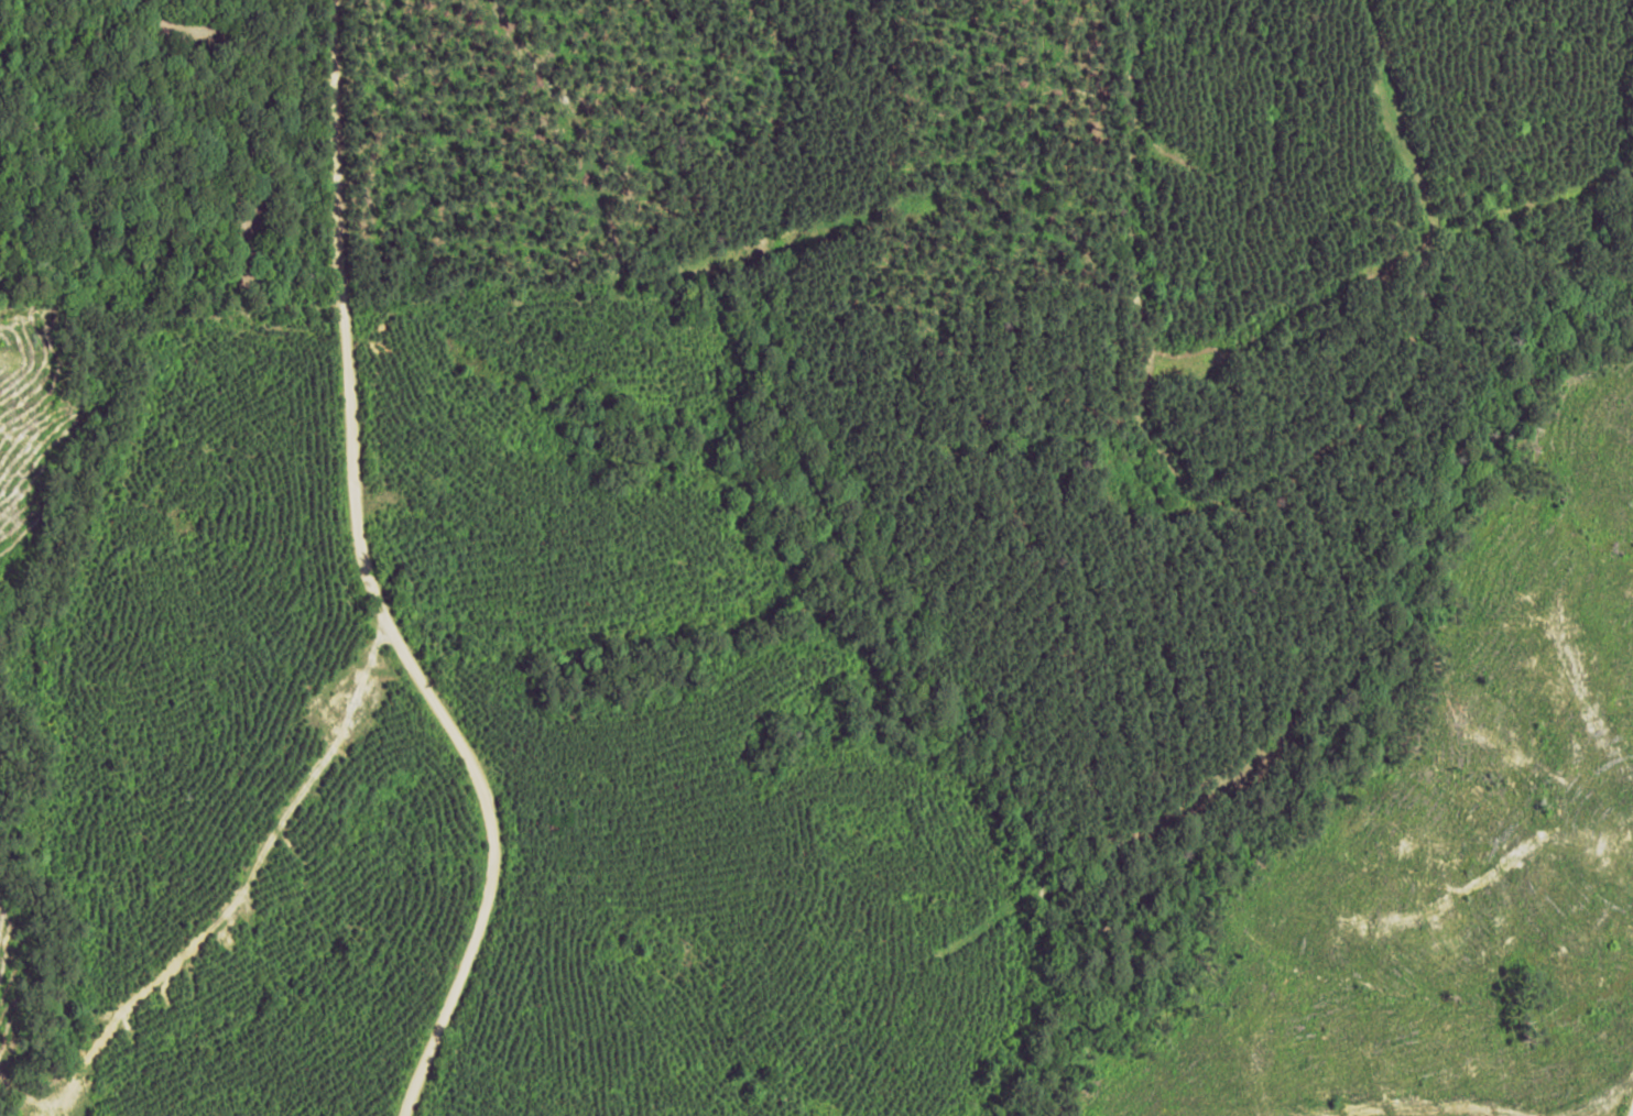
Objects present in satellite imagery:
road: (349, 571)

